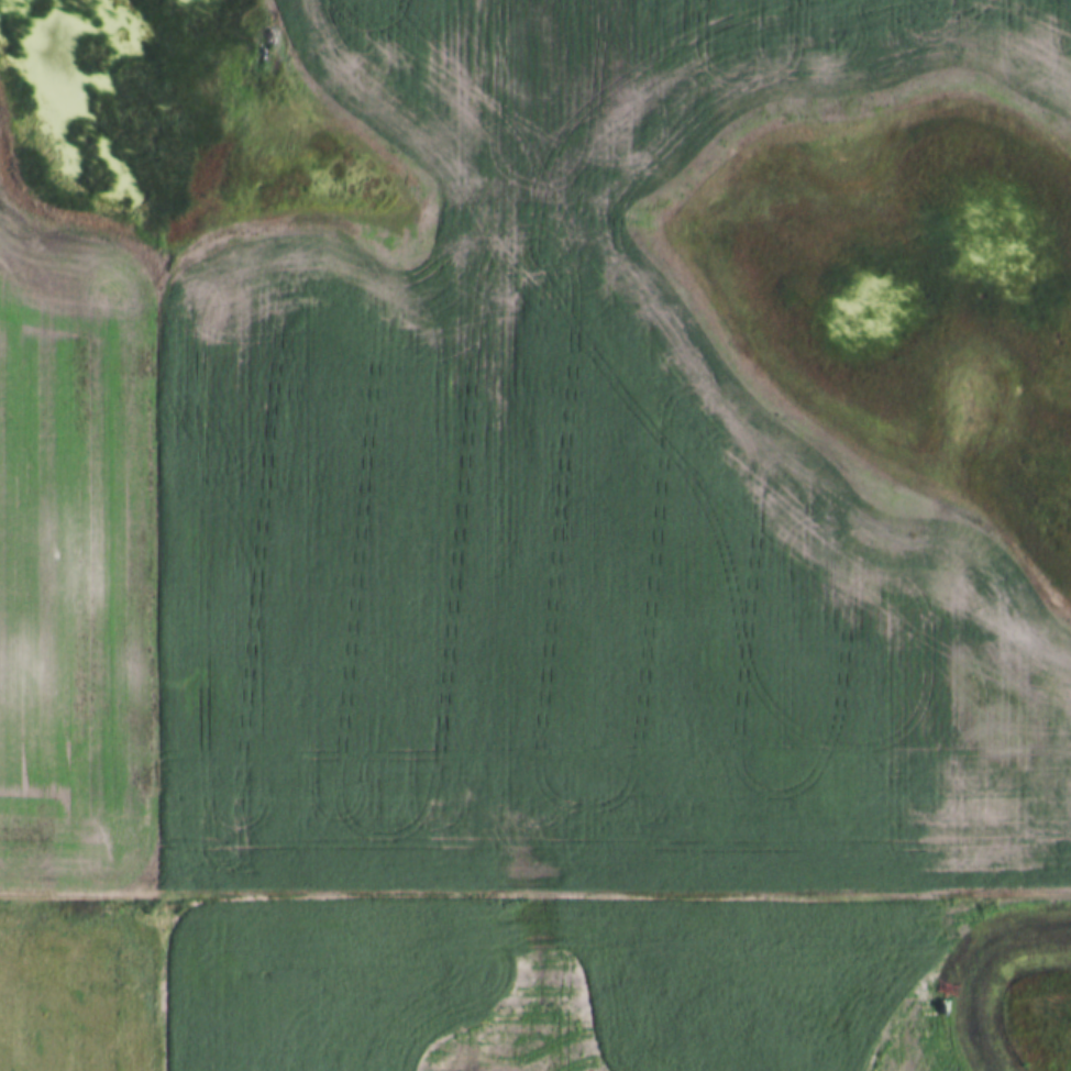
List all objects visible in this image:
road: (174, 656)
road: (535, 895)

